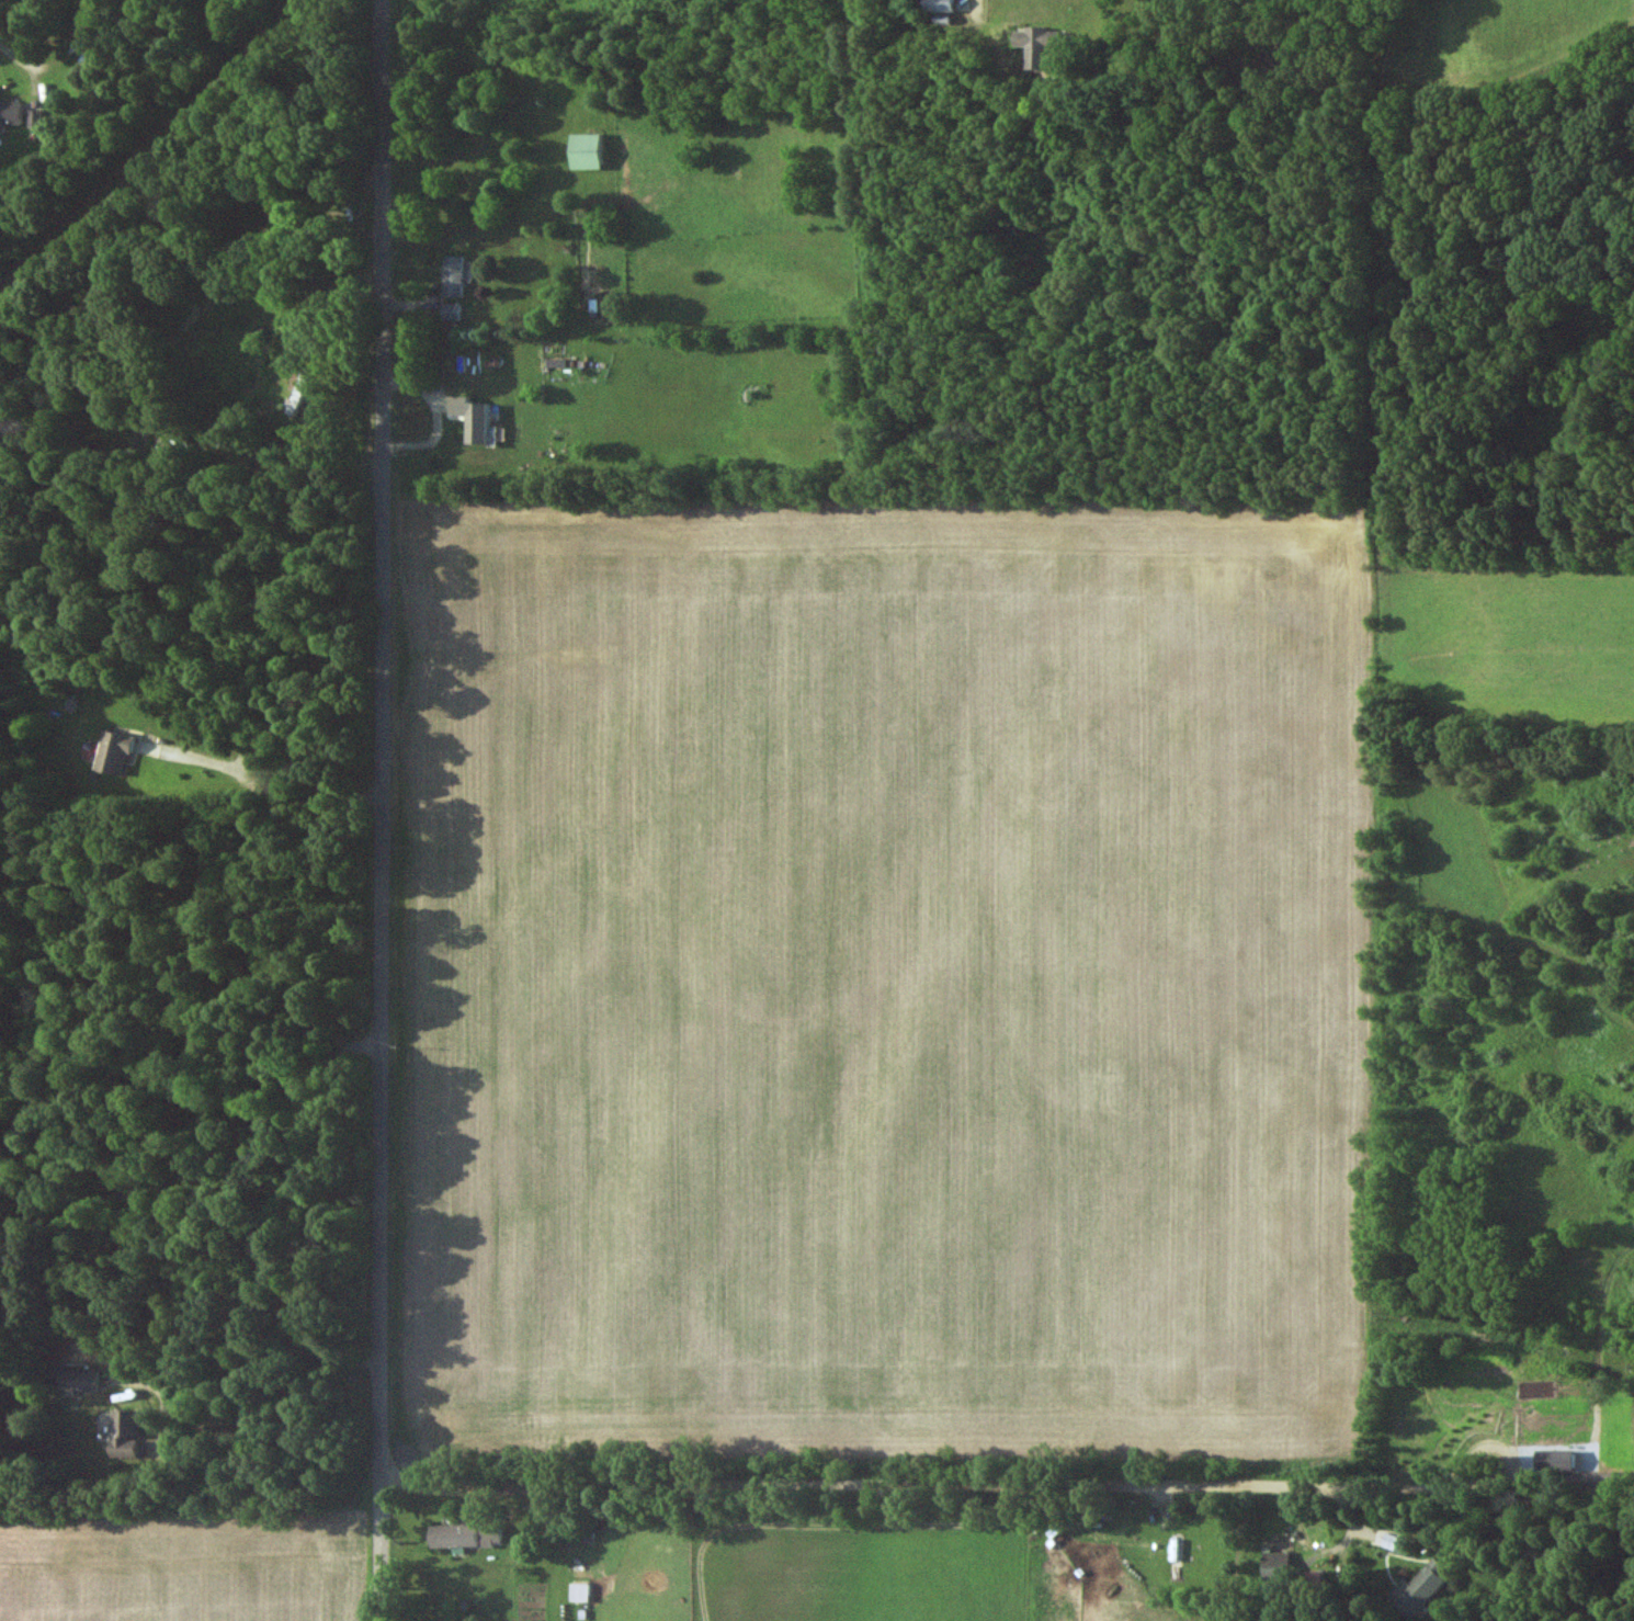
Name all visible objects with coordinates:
building: (939, 5)
road: (917, 21)
building: (83, 27)
building: (1039, 46)
road: (33, 72)
building: (9, 112)
building: (583, 152)
building: (452, 276)
building: (450, 313)
building: (459, 382)
building: (295, 394)
building: (112, 755)
road: (265, 790)
road: (381, 810)
road: (197, 1158)
building: (1625, 1338)
building: (1471, 1365)
building: (78, 1381)
road: (251, 1401)
building: (124, 1435)
building: (1411, 1444)
building: (1555, 1461)
road: (1581, 1481)
road: (955, 1484)
building: (985, 1523)
building: (582, 1534)
building: (462, 1535)
building: (1274, 1567)
building: (1419, 1587)
building: (577, 1592)

